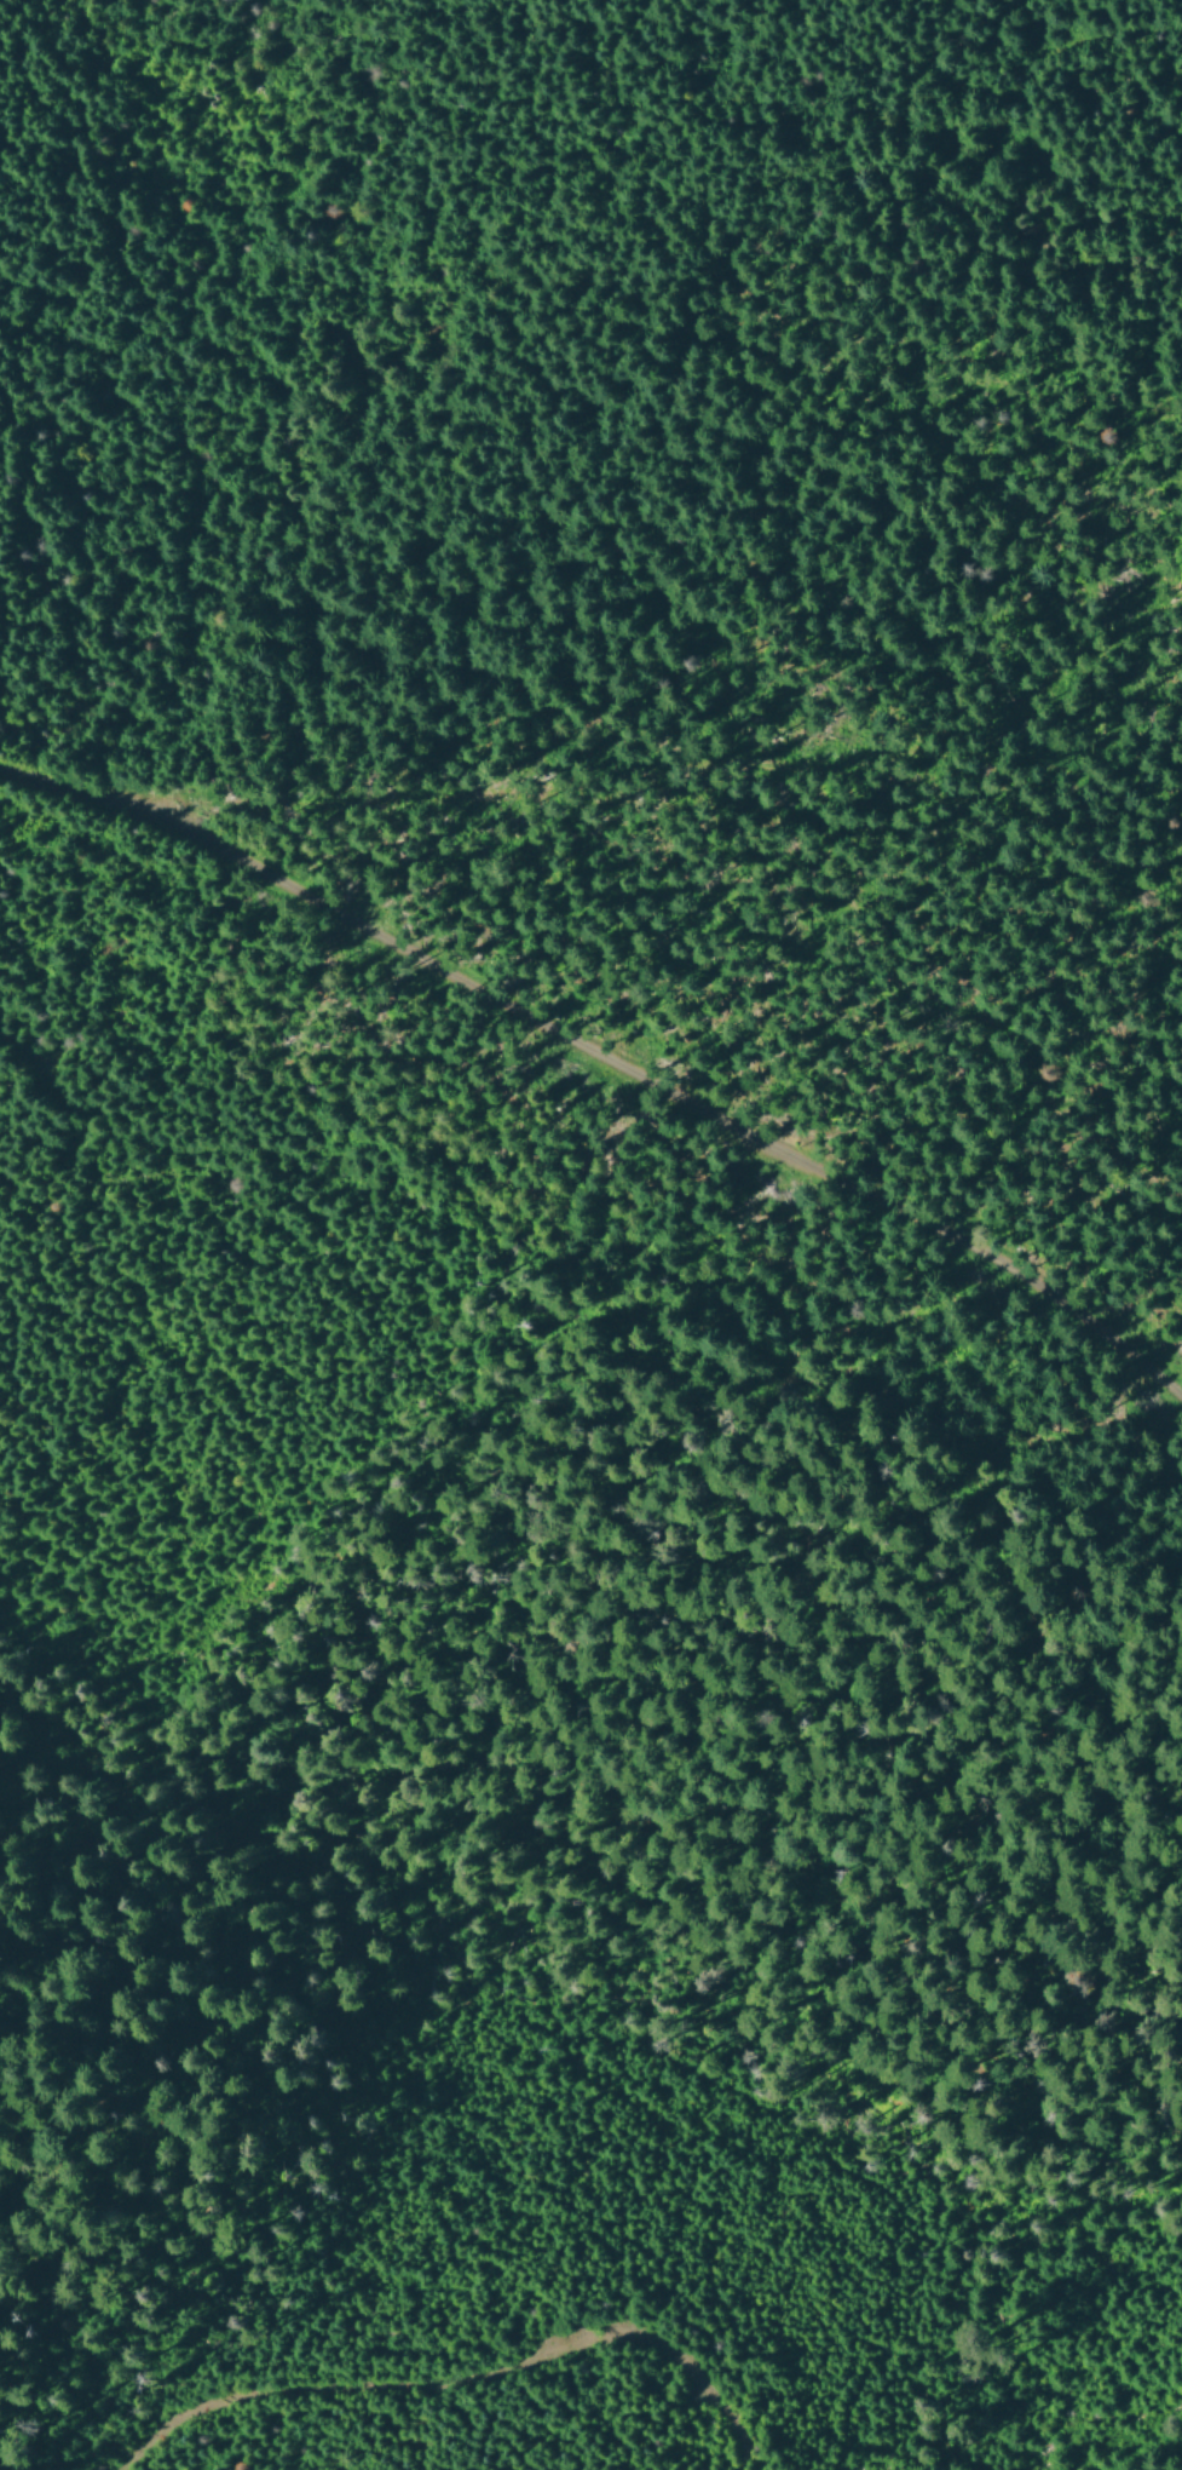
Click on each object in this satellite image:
road: (560, 788)
road: (604, 1059)
road: (442, 2384)

